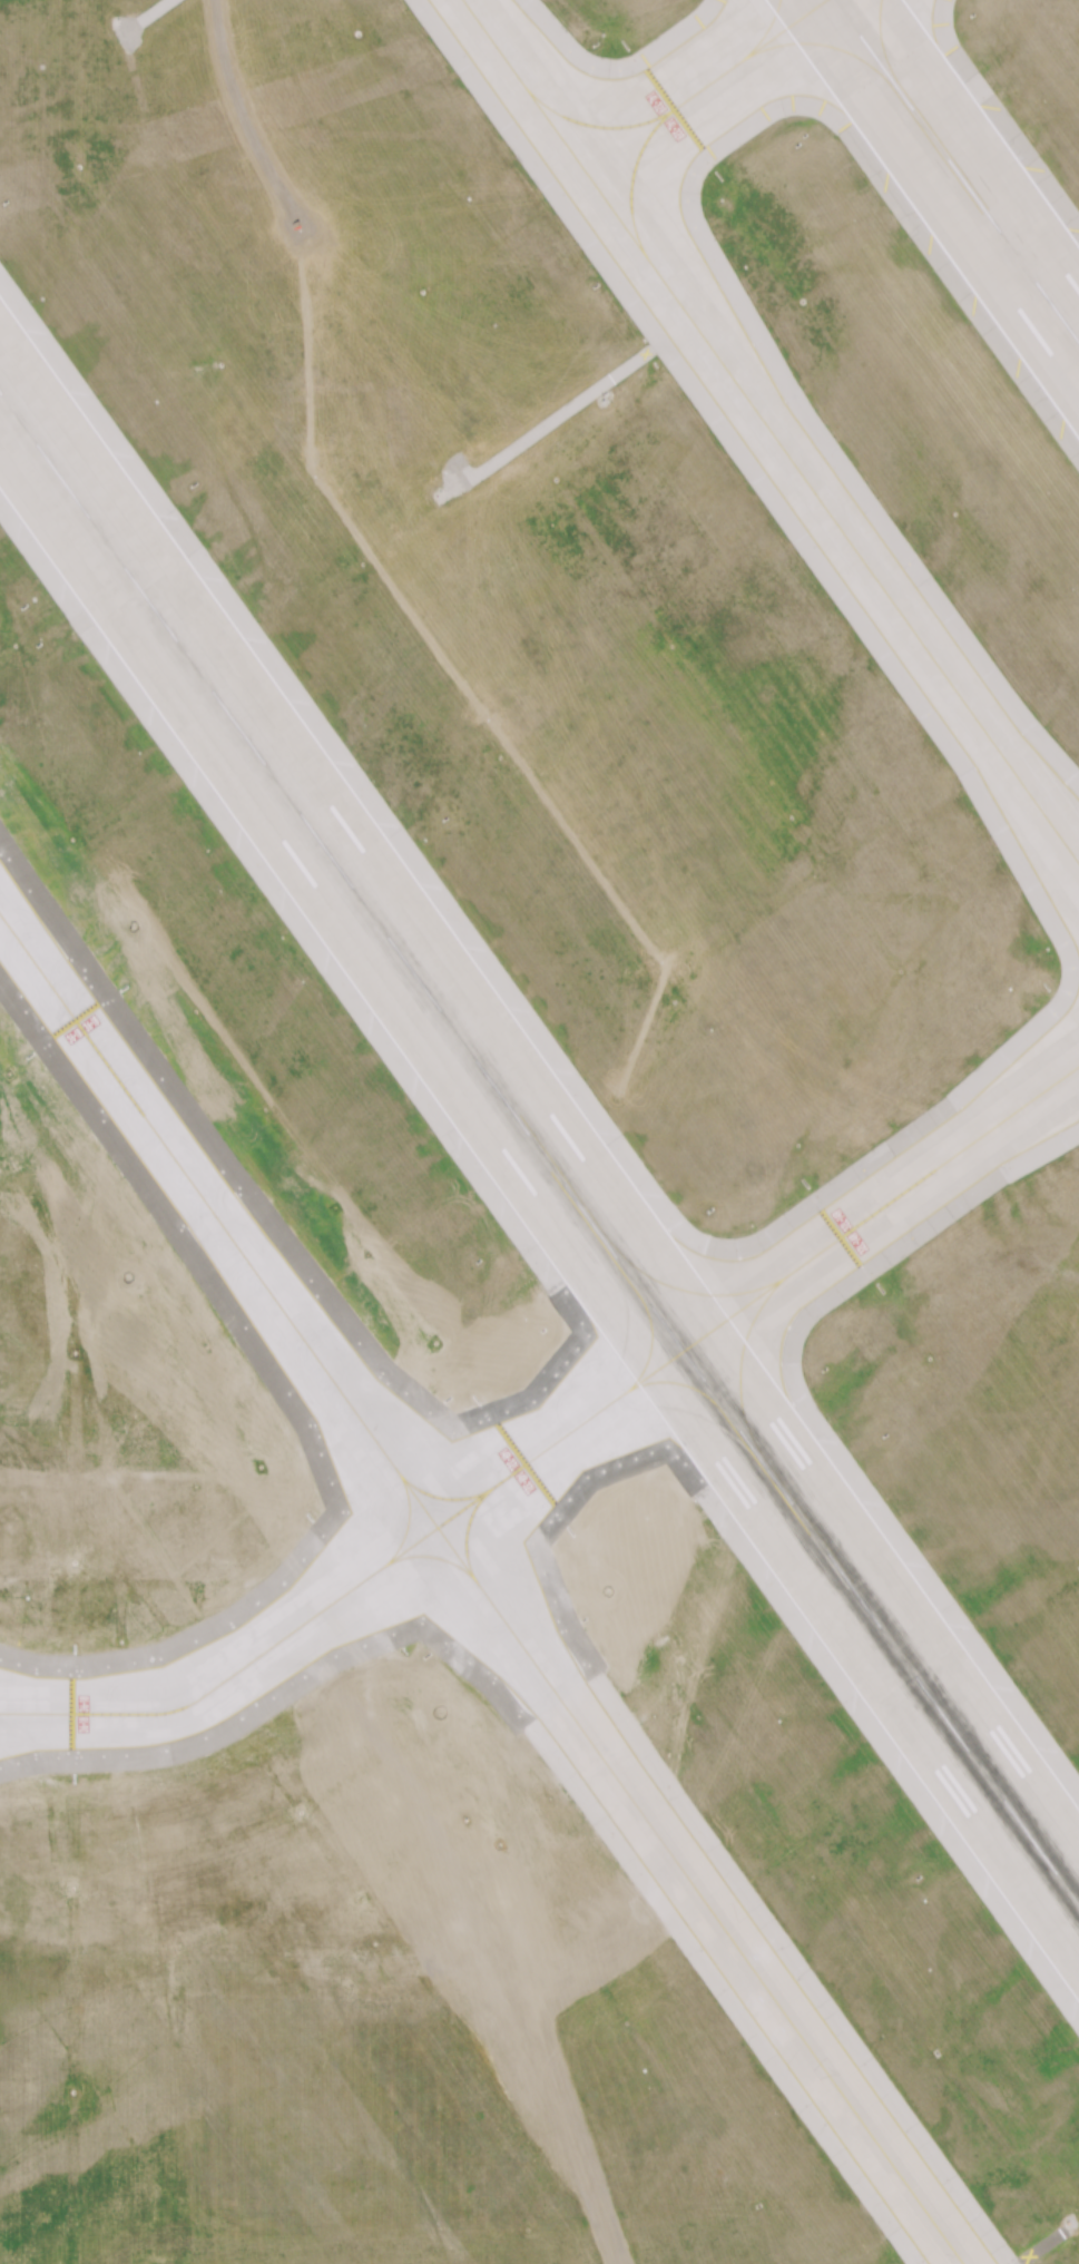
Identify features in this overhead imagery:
airport taxiway: (767, 28)
airport taxiway: (884, 43)
airport taxiway: (830, 48)
airport taxiway: (684, 101)
airport taxiway: (592, 125)
airport runway: (957, 170)
airport taxiway: (769, 430)
airport: (539, 1131)
airport runway: (539, 1149)
airport taxiway: (684, 1290)
airport taxiway: (625, 1335)
airport taxiway: (740, 1361)
airport taxiway: (669, 1408)
airport taxiway: (556, 1440)
airport taxiway: (444, 1499)
airport taxiway: (408, 1518)
airport taxiway: (467, 1529)
airport taxiway: (436, 1558)
airport taxiway: (482, 1589)

